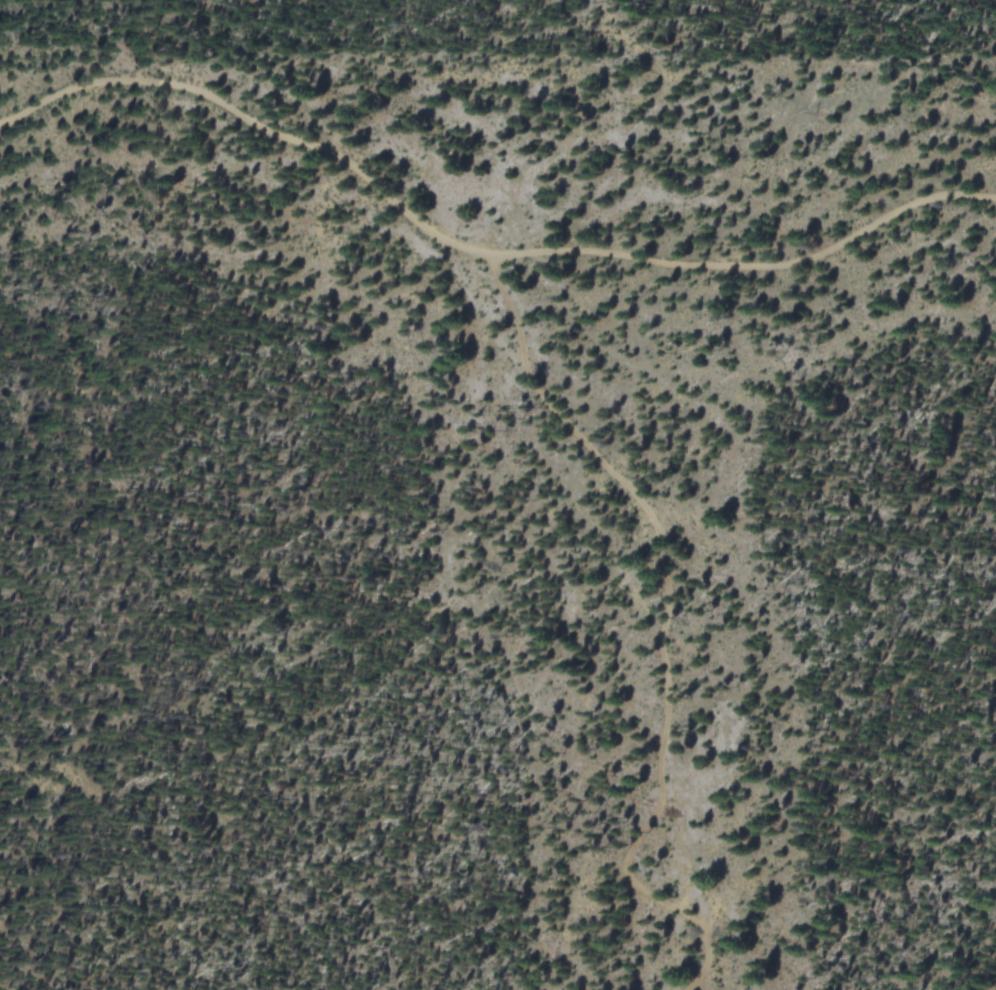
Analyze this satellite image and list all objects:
road: (477, 252)
road: (672, 594)

